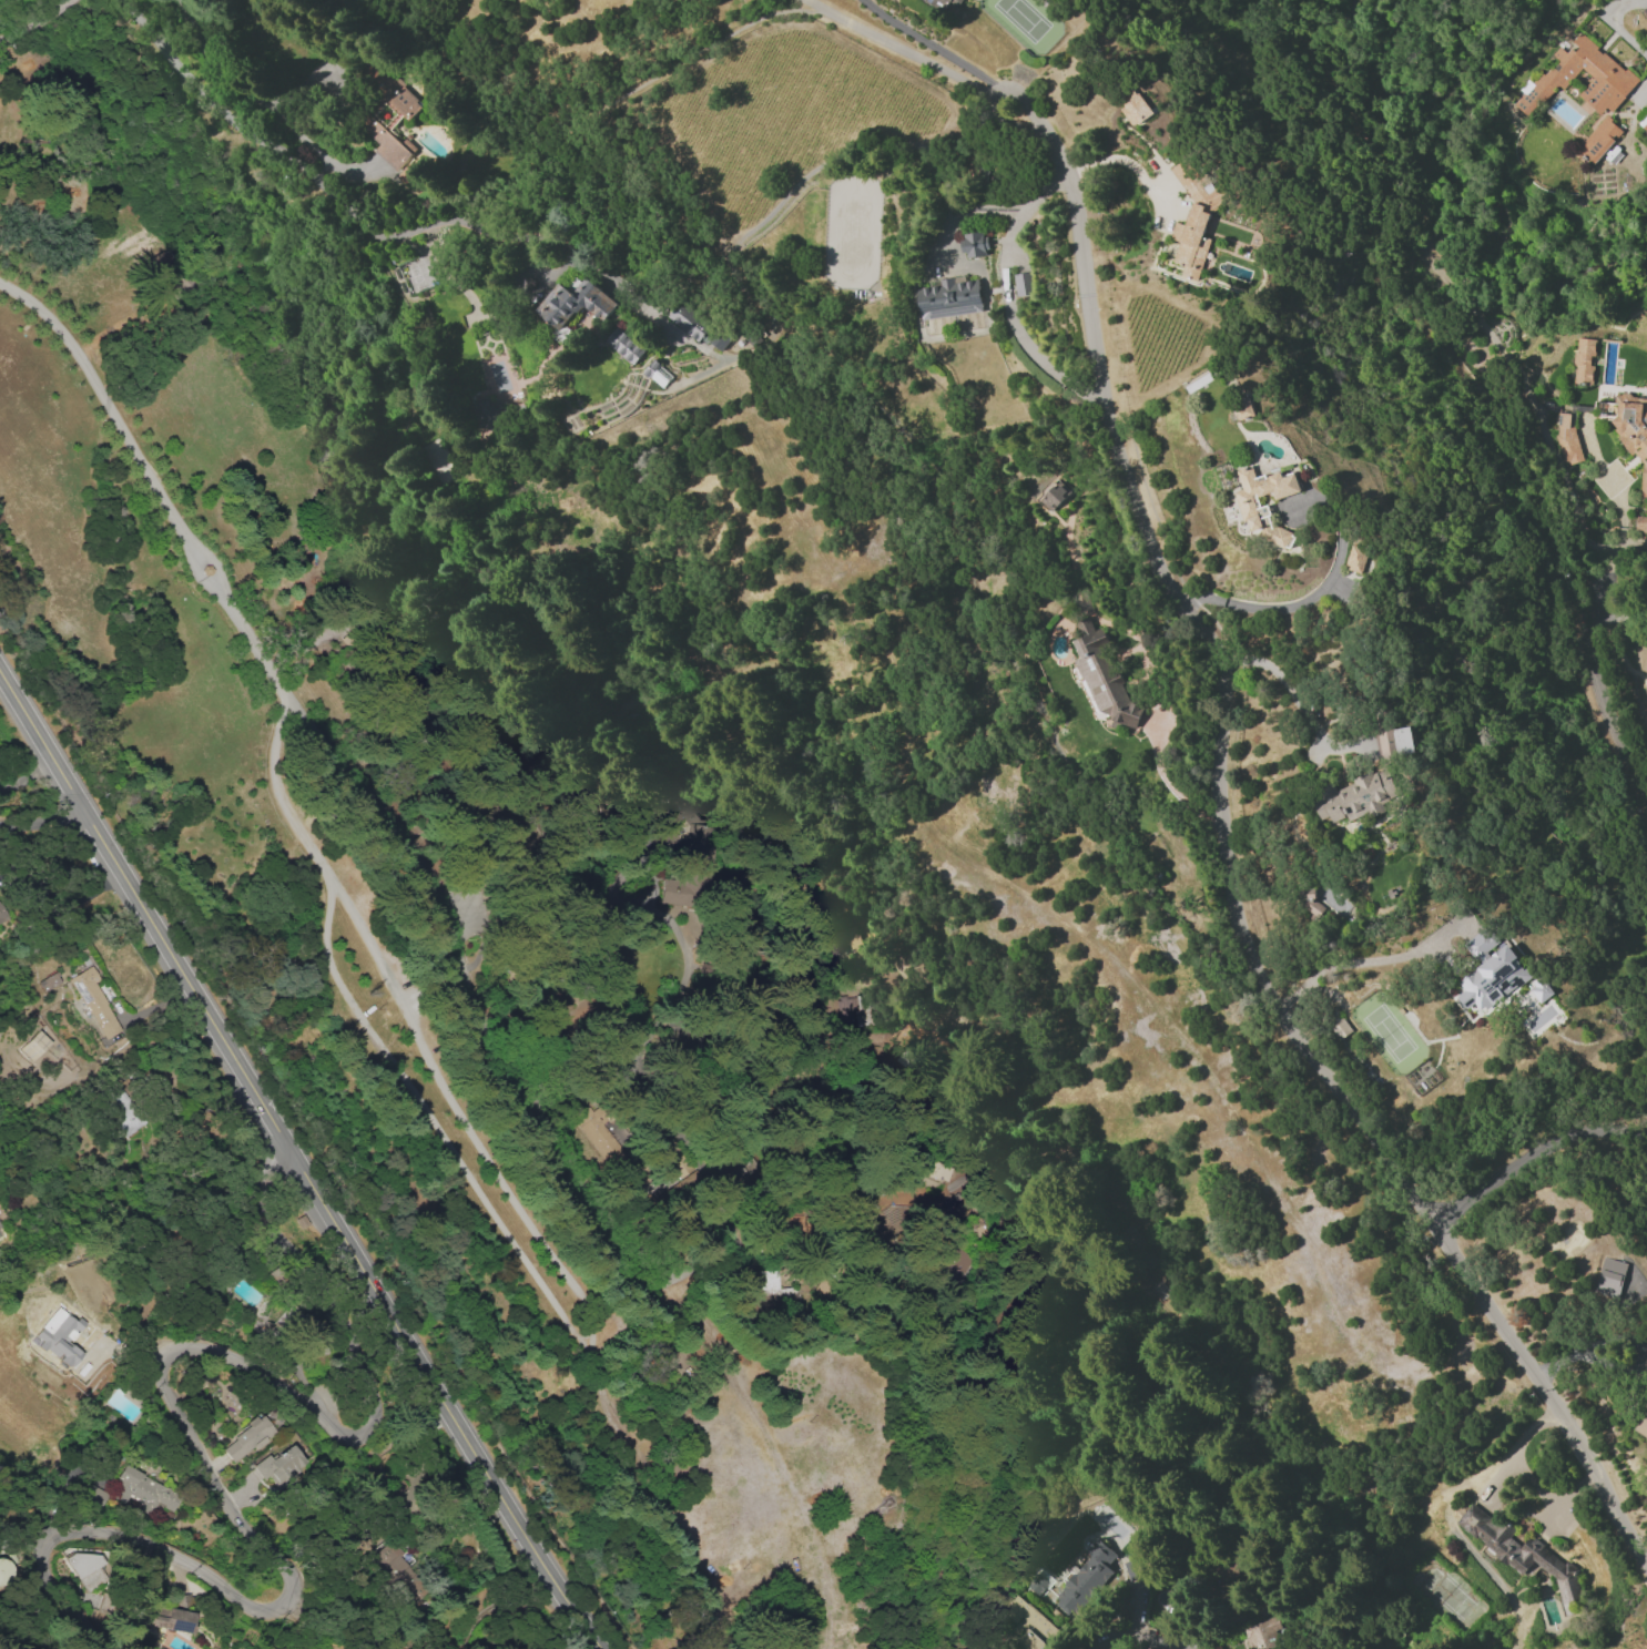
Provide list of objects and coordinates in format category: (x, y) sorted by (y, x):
building: (947, 3)
road: (37, 19)
road: (929, 43)
road: (897, 48)
building: (1605, 71)
road: (993, 90)
road: (597, 101)
building: (1133, 108)
building: (387, 113)
road: (225, 115)
building: (1643, 122)
building: (1598, 139)
road: (1120, 160)
building: (407, 174)
road: (451, 220)
building: (1193, 220)
building: (974, 244)
building: (162, 272)
building: (1021, 284)
road: (1005, 295)
building: (948, 298)
building: (575, 302)
road: (1416, 308)
building: (690, 323)
building: (624, 346)
building: (1583, 360)
building: (657, 374)
road: (106, 401)
building: (1242, 407)
building: (487, 414)
building: (1633, 431)
building: (1566, 438)
building: (1053, 495)
building: (1253, 512)
road: (1620, 512)
building: (1640, 523)
road: (1633, 549)
building: (1355, 559)
road: (218, 587)
road: (1313, 597)
building: (1102, 676)
road: (1282, 680)
road: (1609, 726)
building: (1393, 742)
road: (1171, 785)
building: (1355, 797)
road: (32, 818)
building: (682, 822)
road: (47, 829)
building: (677, 889)
road: (60, 894)
road: (1233, 897)
road: (140, 900)
building: (1310, 905)
building: (0, 920)
road: (451, 927)
building: (845, 938)
road: (1360, 961)
building: (1490, 973)
building: (49, 981)
building: (1541, 990)
building: (93, 1000)
building: (848, 1010)
building: (1336, 1022)
building: (34, 1045)
road: (182, 1092)
building: (120, 1110)
road: (1528, 1150)
building: (671, 1158)
building: (934, 1171)
road: (547, 1250)
building: (1609, 1278)
building: (773, 1286)
building: (59, 1335)
road: (1586, 1344)
road: (437, 1392)
road: (306, 1401)
building: (1646, 1408)
building: (1641, 1426)
building: (246, 1438)
building: (277, 1466)
building: (143, 1489)
building: (93, 1495)
road: (1547, 1495)
road: (1447, 1515)
road: (132, 1538)
building: (1522, 1554)
building: (88, 1569)
building: (1224, 1569)
building: (6, 1570)
building: (1131, 1570)
building: (399, 1572)
building: (1085, 1580)
building: (171, 1618)
building: (1029, 1625)
building: (1261, 1633)
road: (1135, 1640)
building: (1460, 1648)

